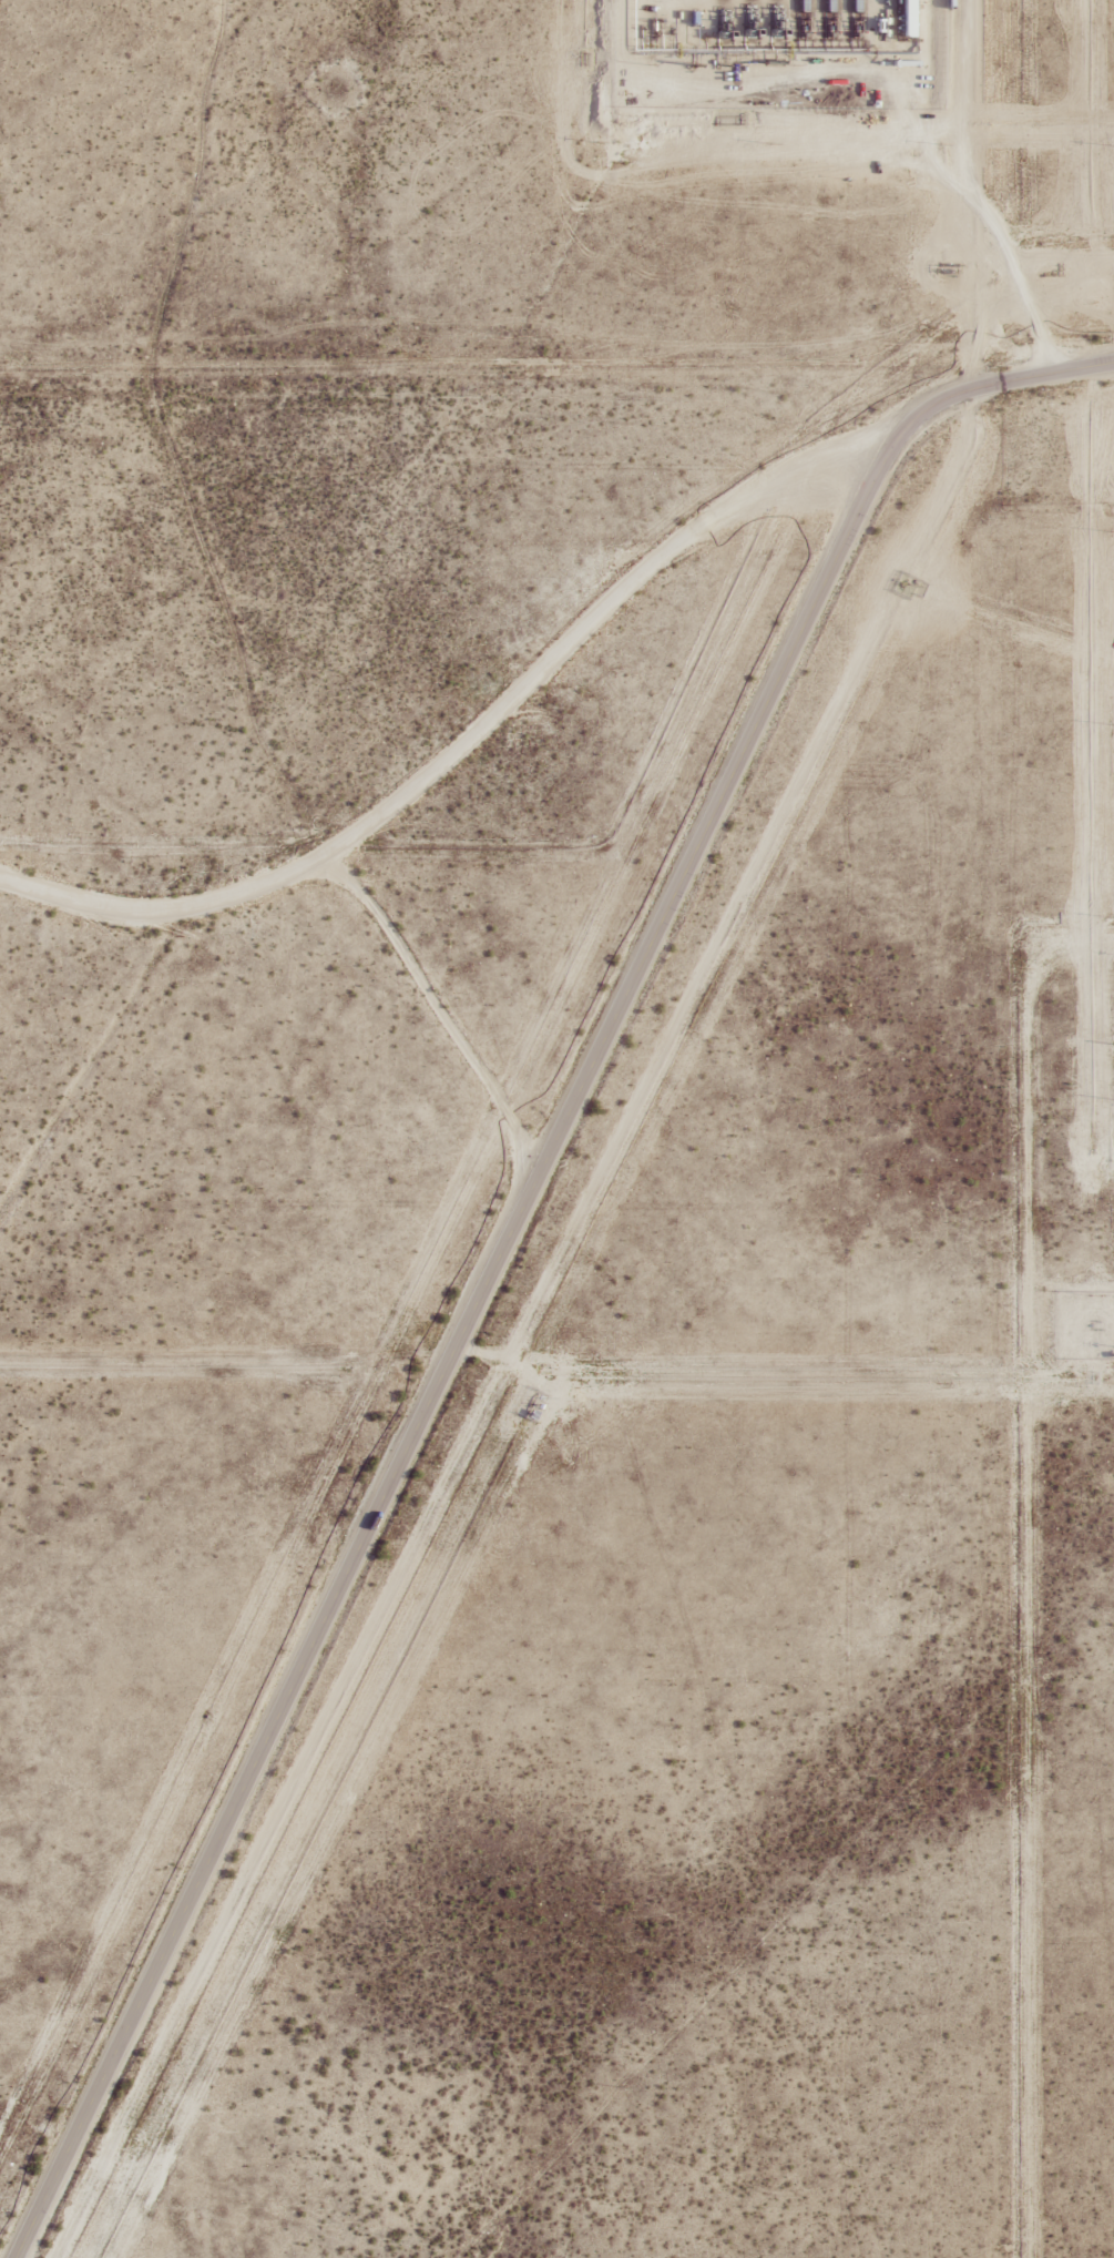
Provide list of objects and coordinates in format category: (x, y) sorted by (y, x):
road: (716, 157)
road: (962, 196)
road: (462, 731)
road: (437, 1003)
road: (505, 1238)

